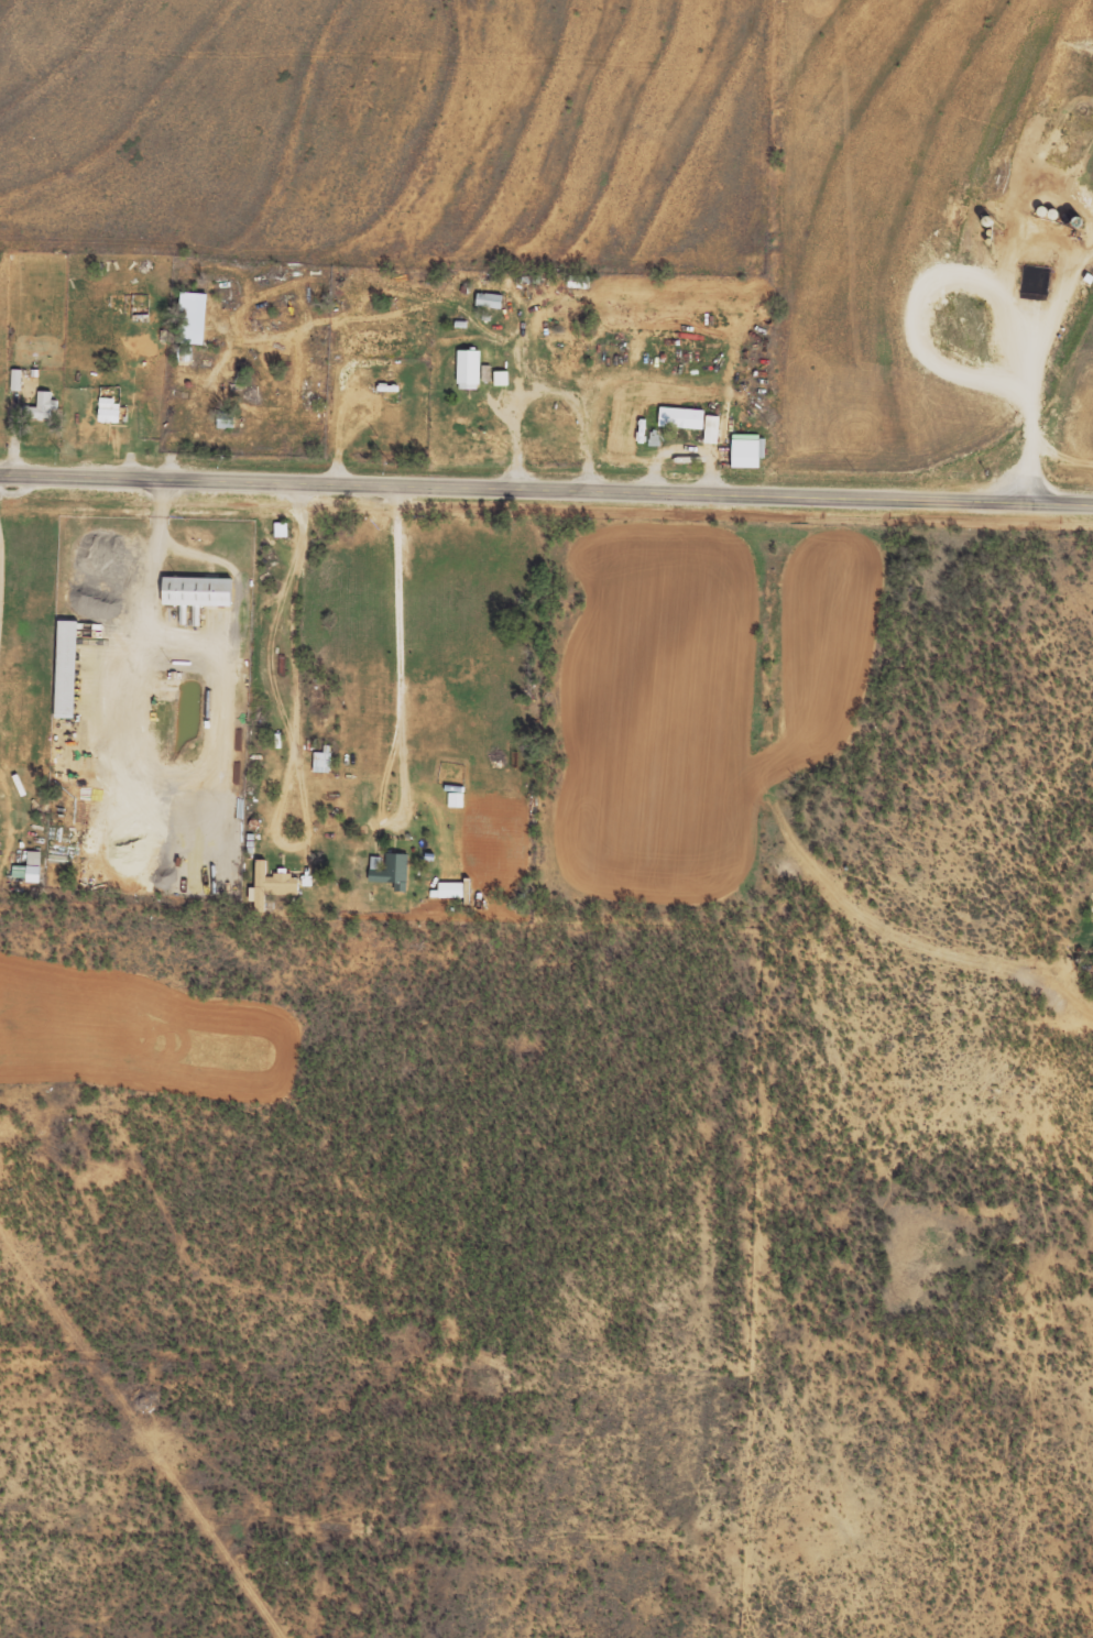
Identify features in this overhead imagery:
road: (724, 247)
building: (490, 299)
building: (193, 317)
building: (469, 368)
building: (502, 378)
building: (17, 379)
building: (43, 407)
building: (109, 408)
building: (682, 417)
building: (227, 419)
building: (723, 426)
building: (712, 428)
building: (748, 449)
road: (546, 489)
building: (281, 528)
building: (198, 591)
road: (1038, 633)
building: (67, 668)
building: (321, 762)
building: (30, 867)
building: (391, 870)
building: (271, 885)
building: (451, 889)

